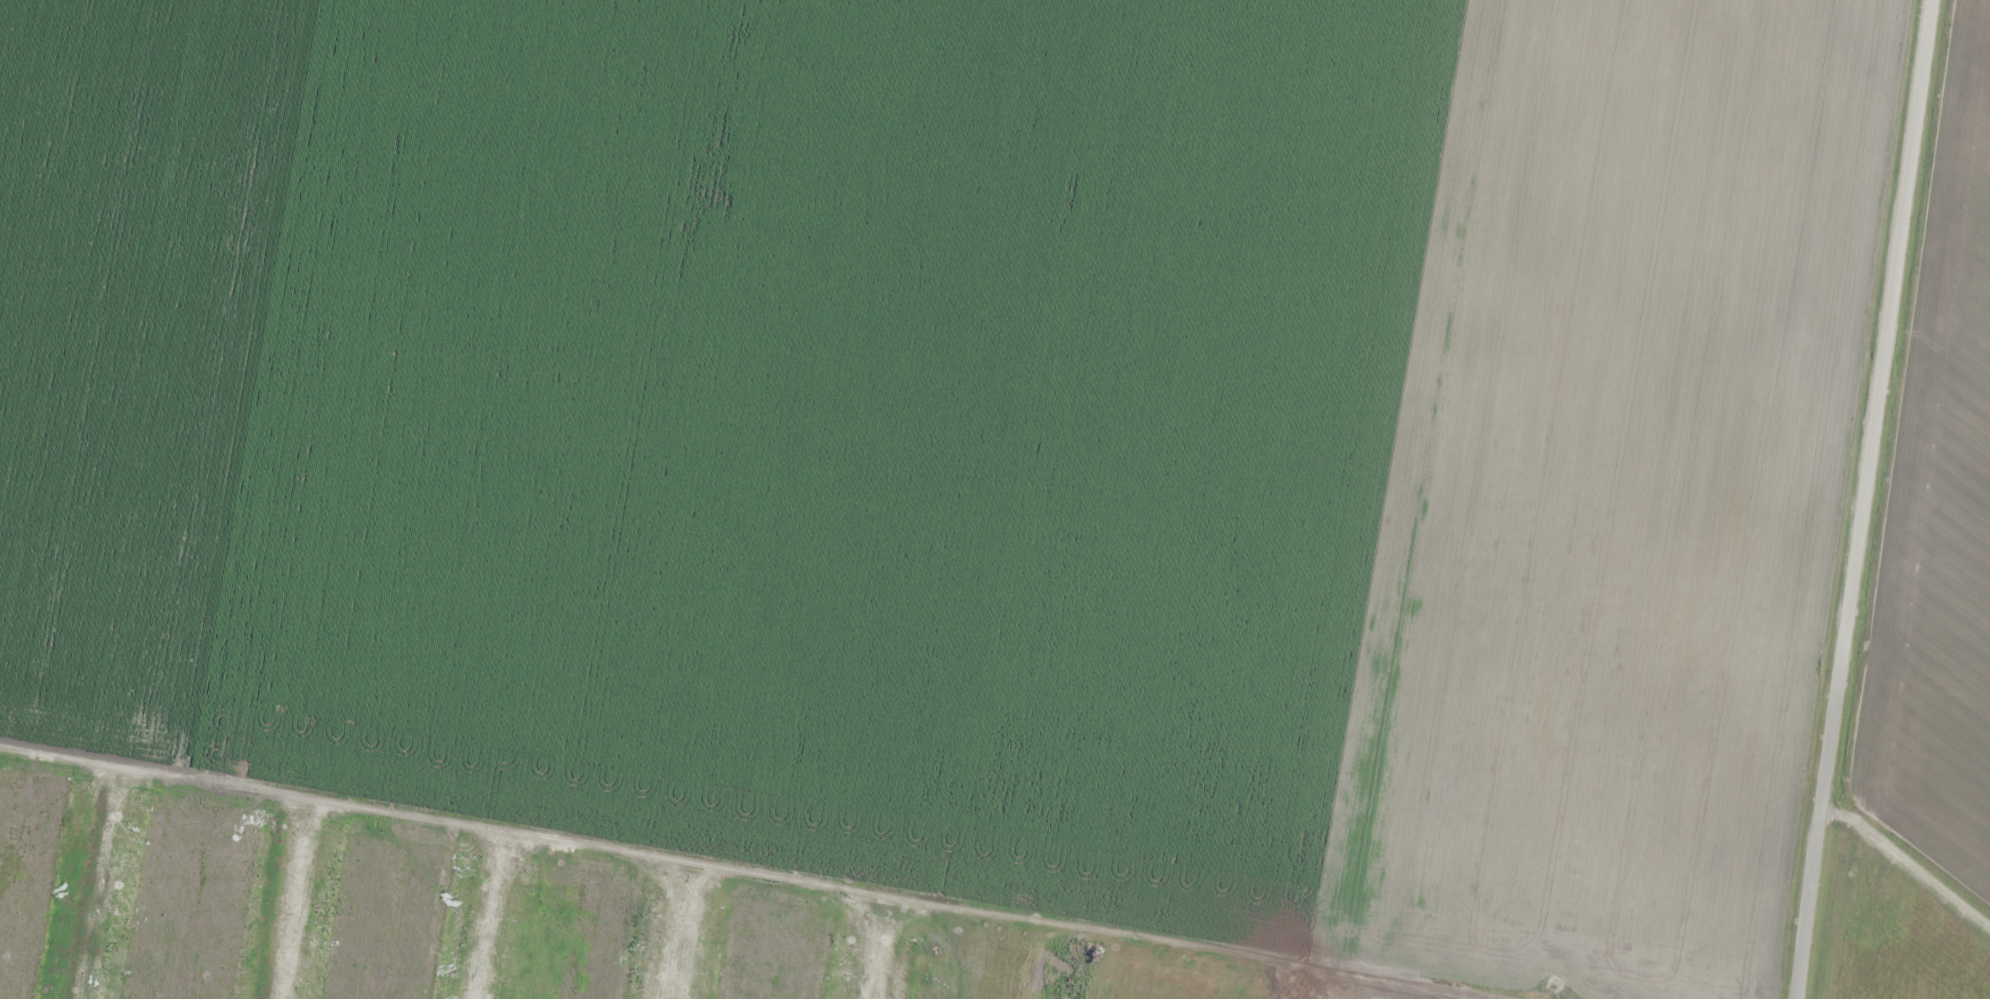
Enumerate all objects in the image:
road: (1867, 499)

